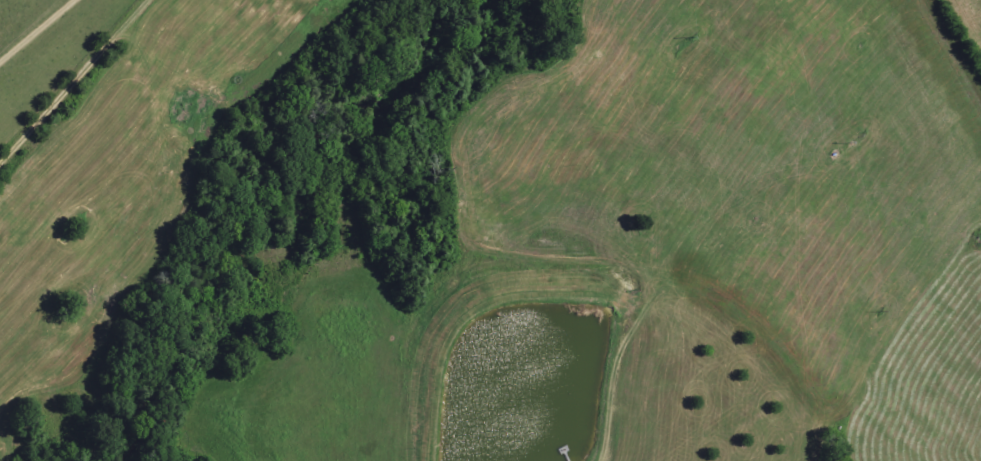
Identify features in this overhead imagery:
road: (32, 27)
road: (73, 82)

